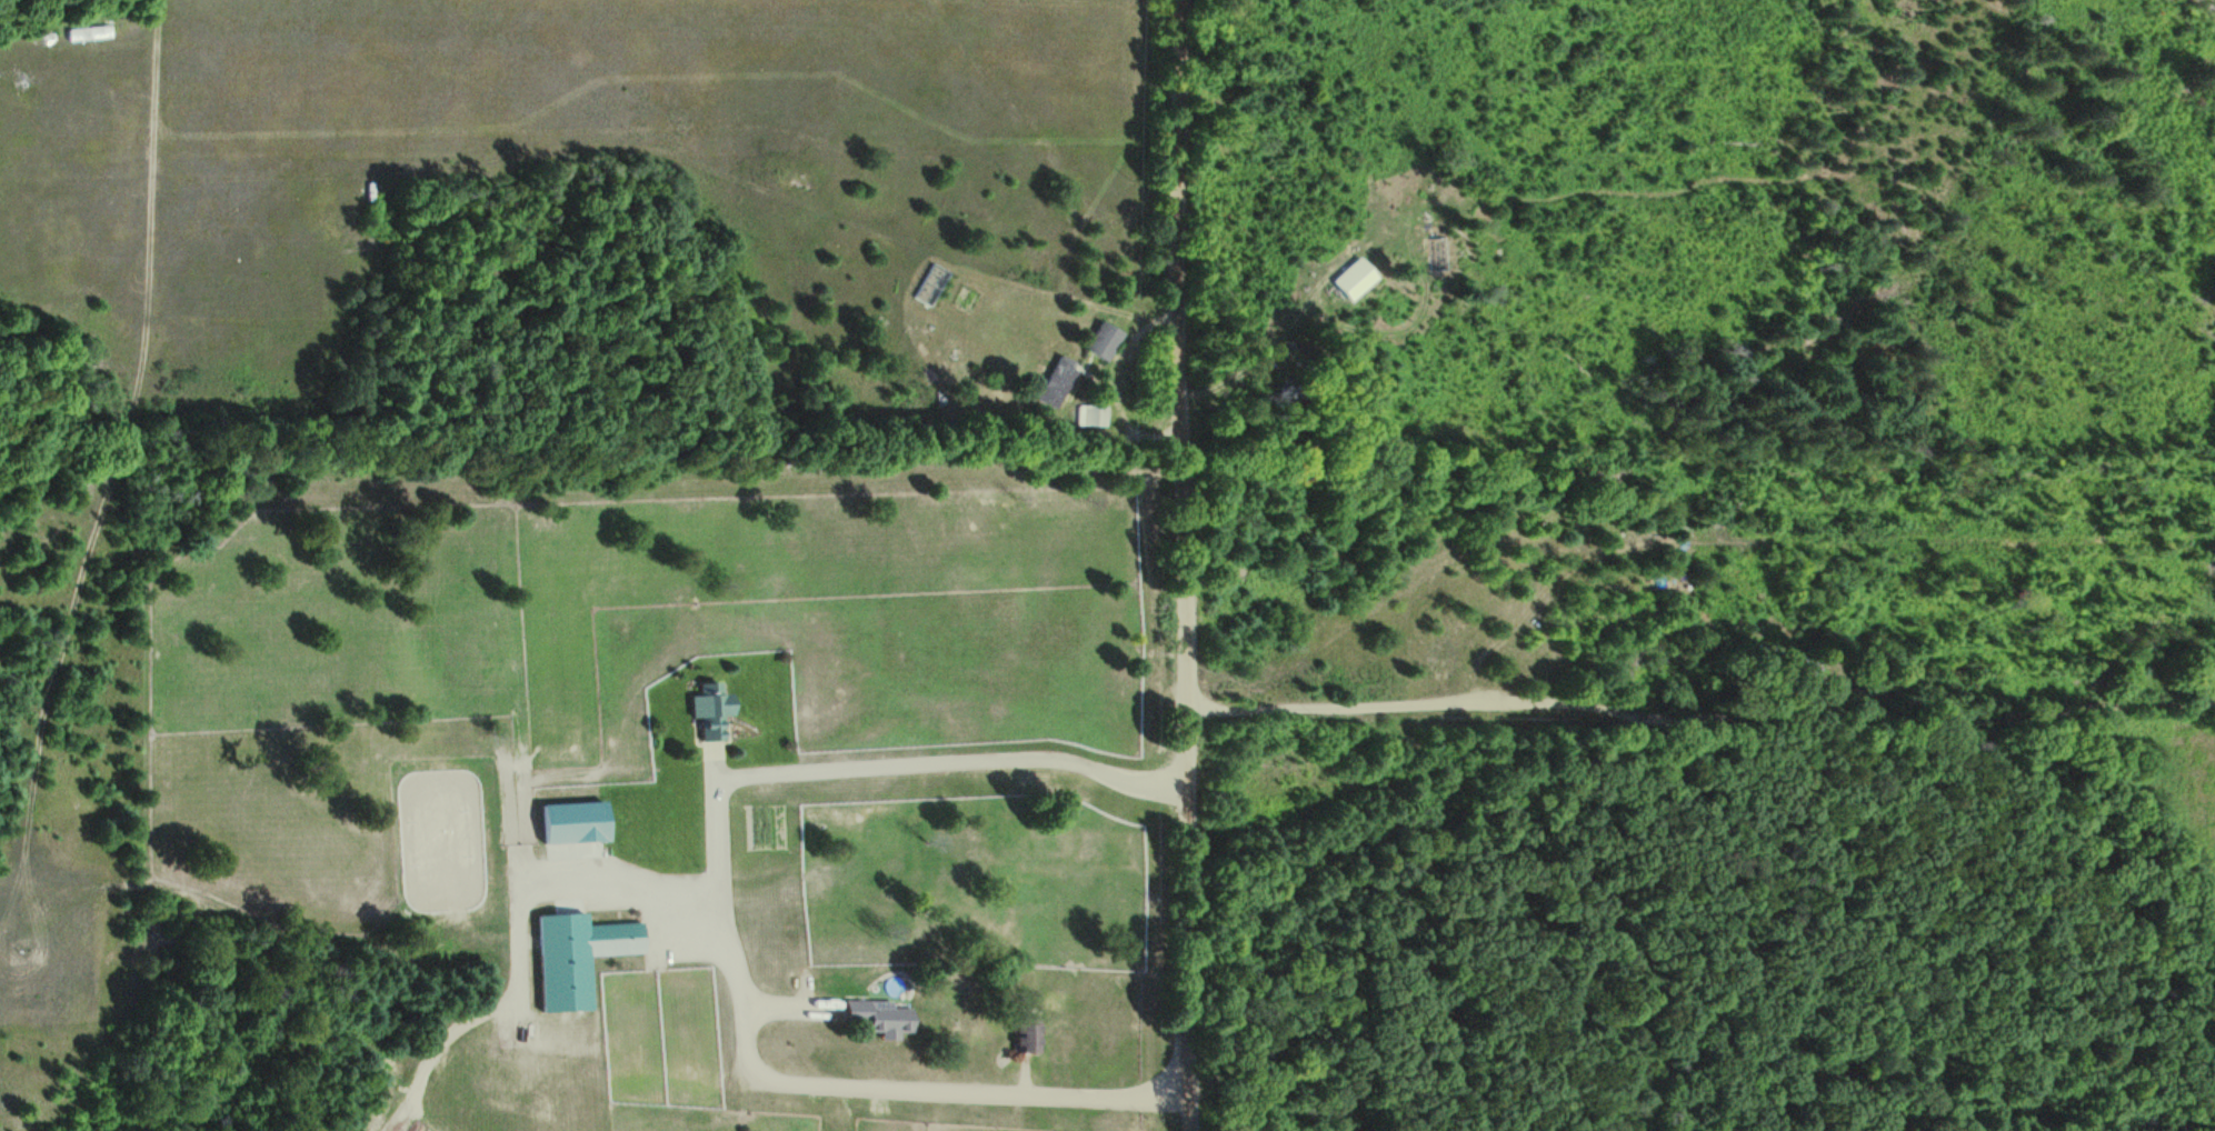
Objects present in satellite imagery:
building: (1353, 280)
building: (1104, 342)
building: (1055, 387)
building: (1095, 416)
road: (1187, 565)
building: (716, 709)
road: (1700, 710)
road: (715, 752)
road: (718, 770)
building: (580, 819)
road: (724, 912)
road: (521, 913)
building: (581, 953)
road: (787, 1011)
road: (835, 1012)
building: (880, 1017)
building: (1031, 1034)
road: (1028, 1079)

